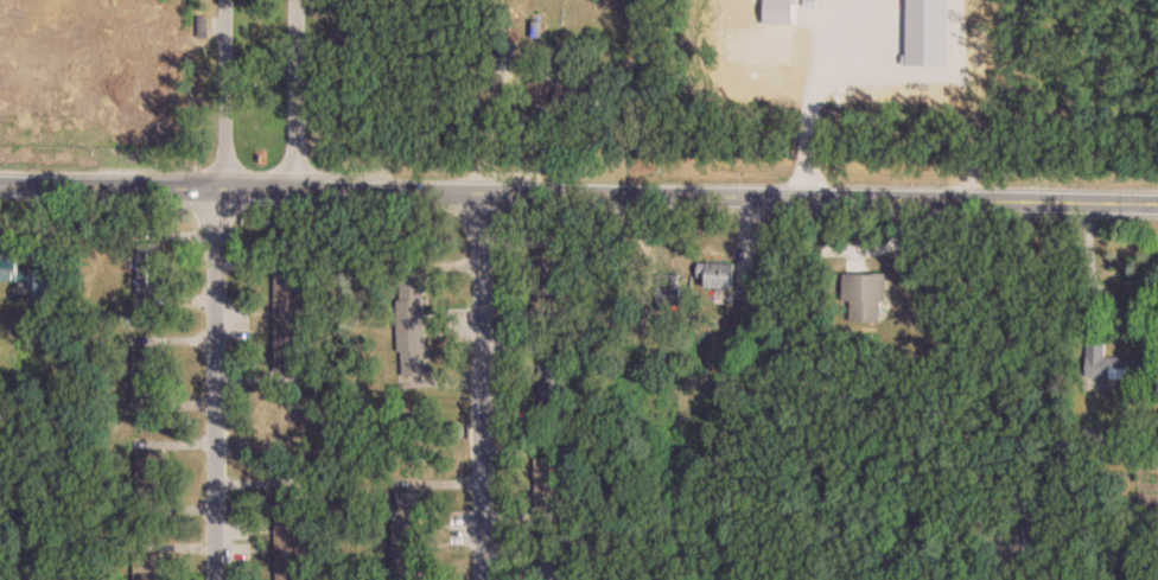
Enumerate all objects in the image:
road: (224, 94)
road: (295, 94)
road: (578, 193)
building: (9, 254)
road: (1087, 266)
building: (147, 268)
building: (546, 276)
building: (715, 276)
building: (668, 289)
building: (864, 298)
building: (287, 306)
building: (411, 320)
building: (1106, 364)
building: (552, 378)
road: (214, 382)
road: (956, 383)
road: (483, 385)
building: (546, 472)
building: (148, 478)
building: (1032, 517)
building: (287, 525)
building: (405, 525)
building: (144, 567)
building: (553, 571)

